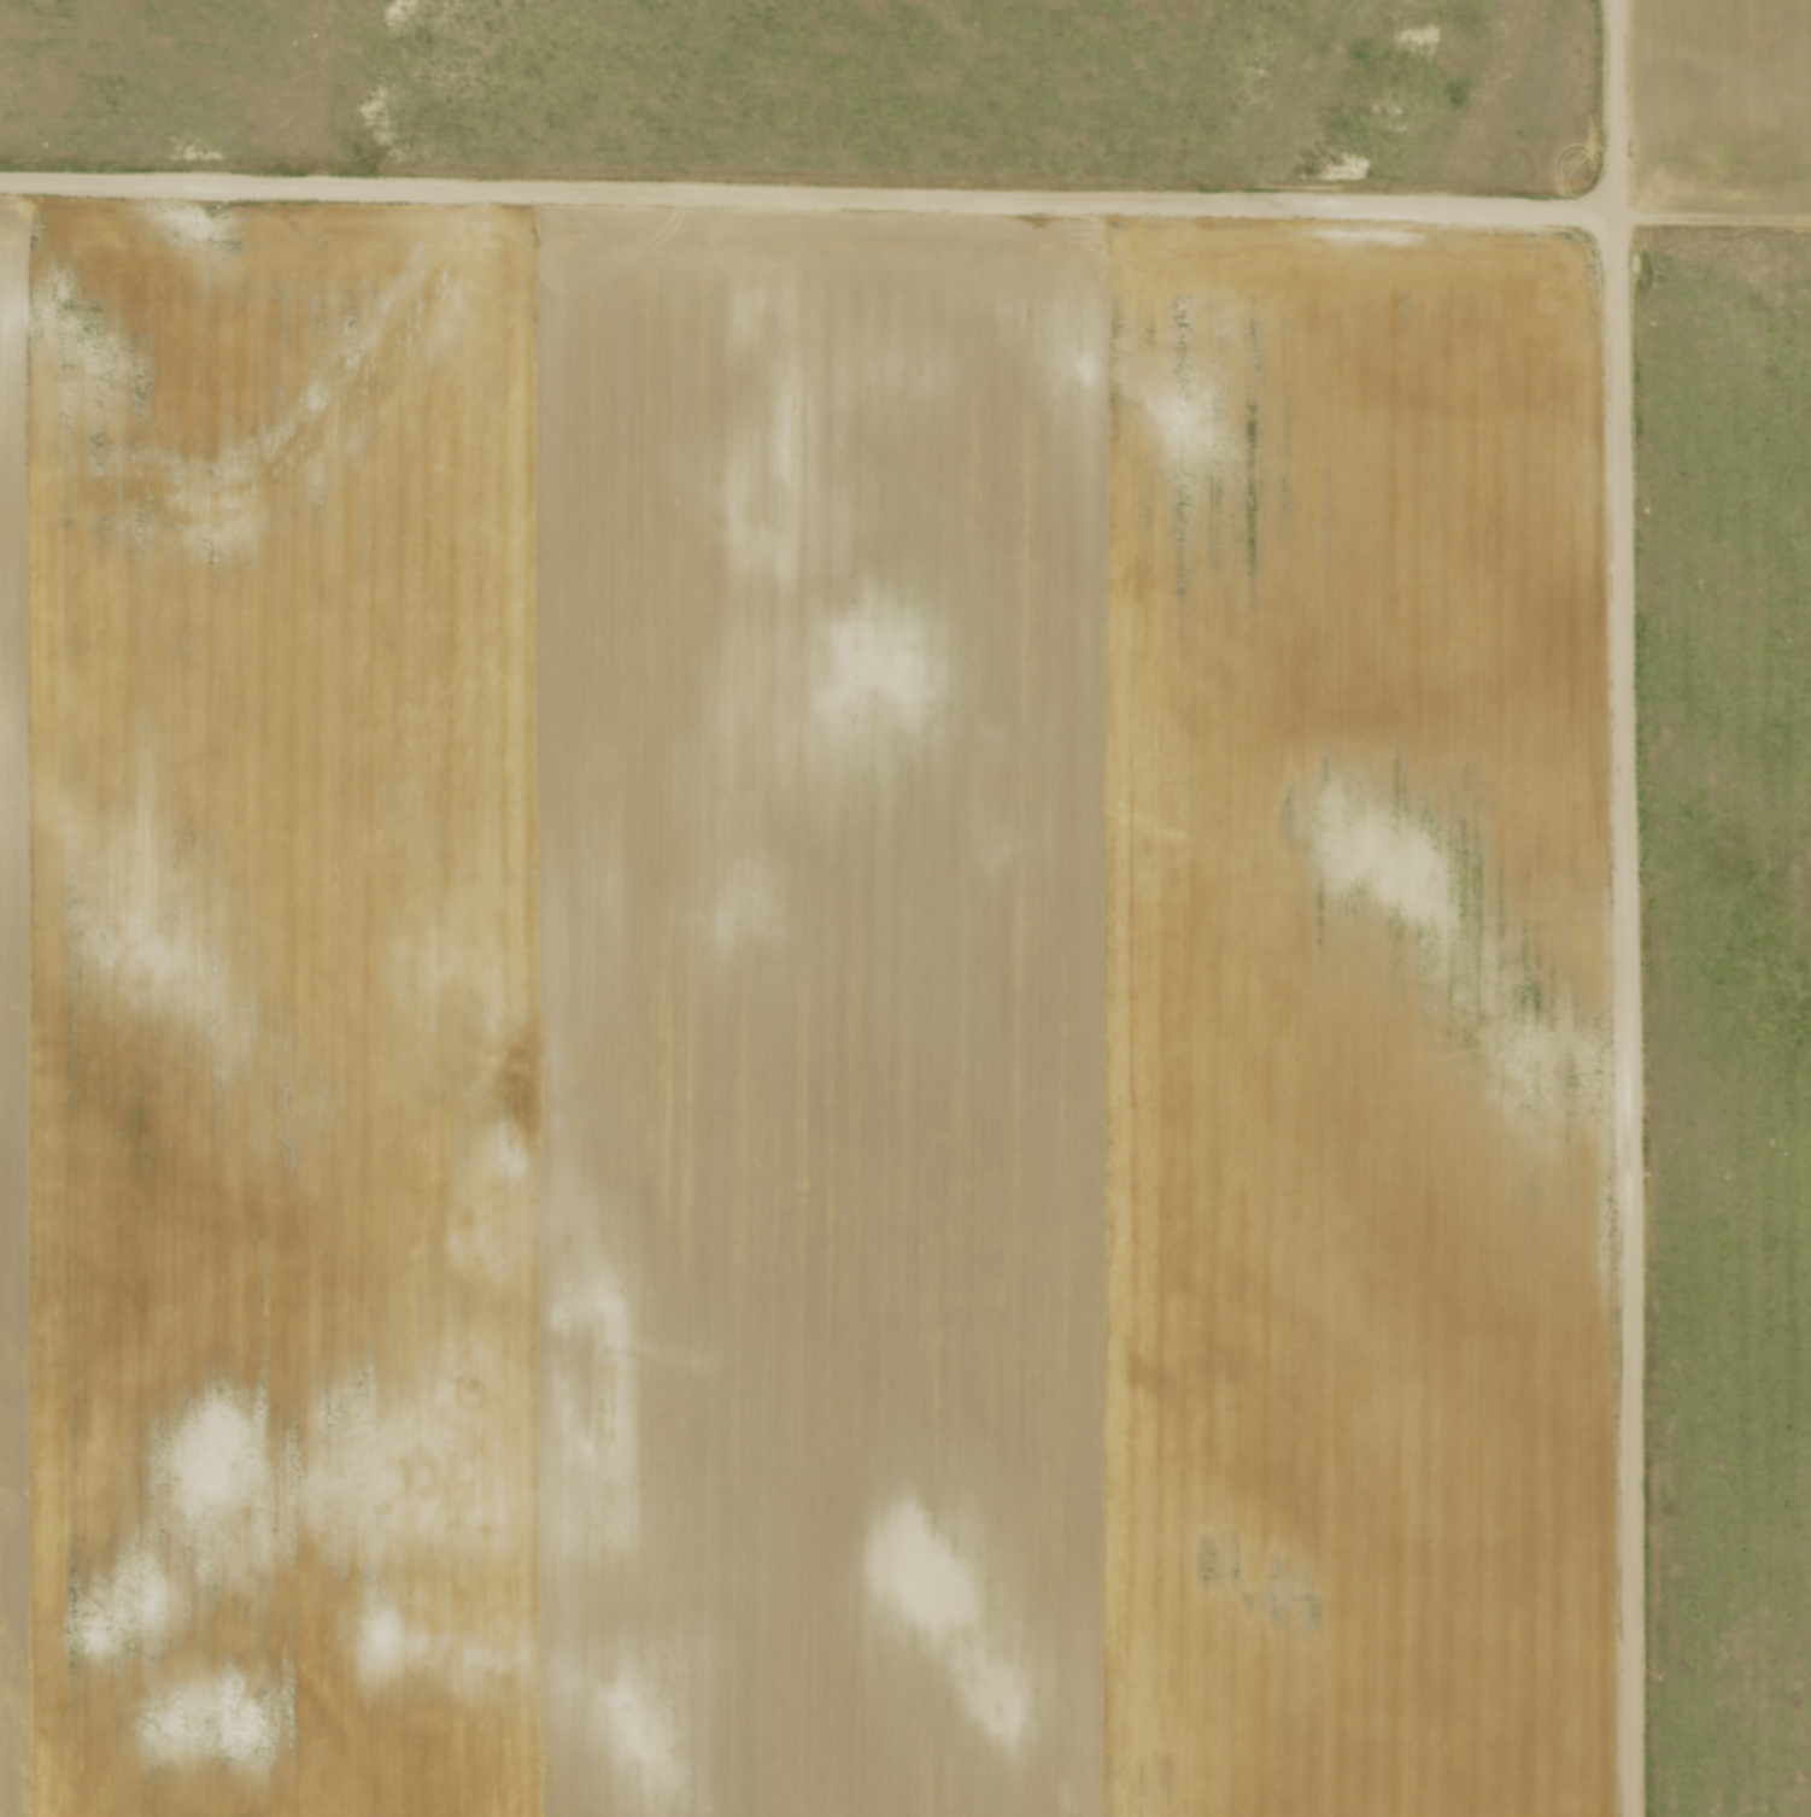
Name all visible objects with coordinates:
road: (905, 193)
crop: (1728, 898)
road: (1627, 908)
crop: (798, 1016)

